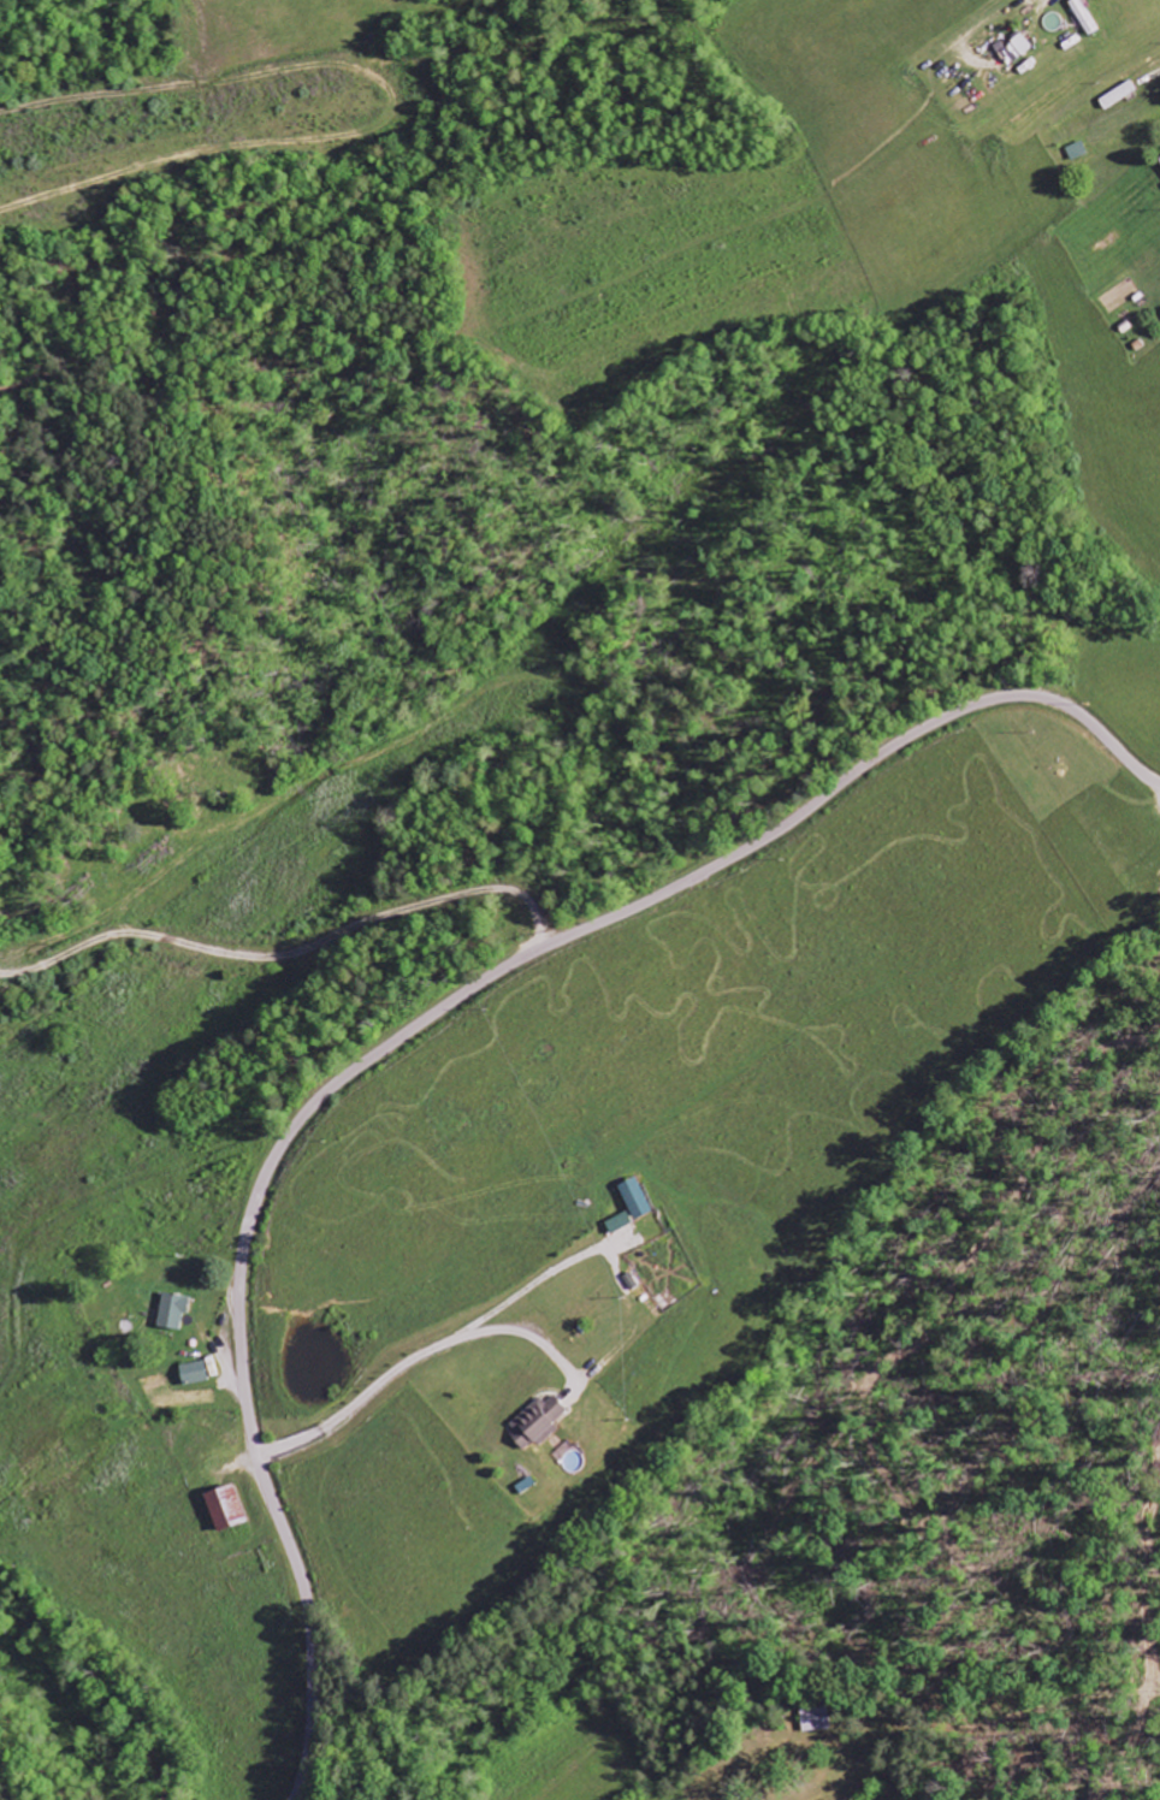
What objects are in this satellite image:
building: (1083, 17)
building: (1014, 51)
building: (1159, 161)
road: (416, 1023)
building: (633, 1198)
building: (617, 1222)
building: (170, 1311)
building: (191, 1374)
building: (535, 1422)
building: (223, 1509)
building: (812, 1721)

